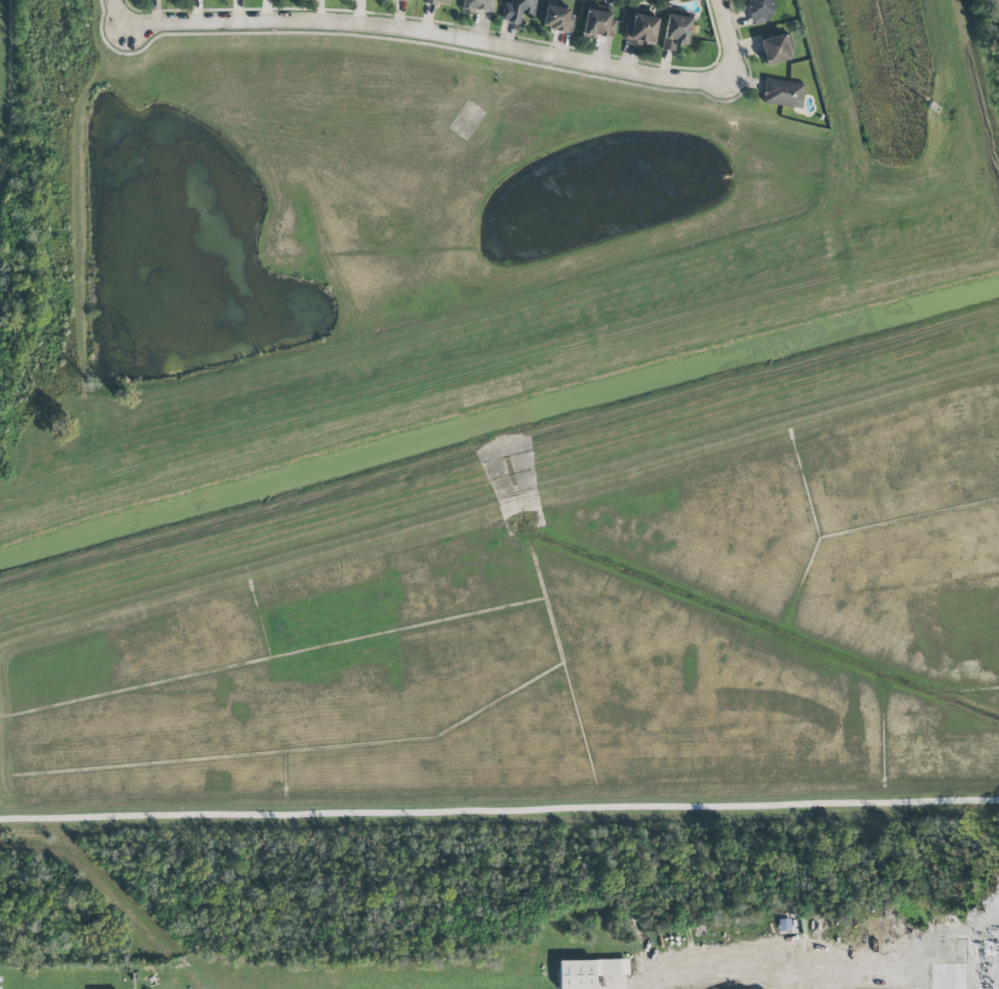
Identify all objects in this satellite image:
building: (404, 0)
building: (438, 2)
building: (478, 5)
building: (517, 10)
building: (758, 11)
road: (115, 12)
building: (557, 19)
building: (598, 24)
building: (641, 30)
building: (676, 31)
road: (465, 38)
building: (774, 49)
building: (782, 93)
building: (588, 972)

